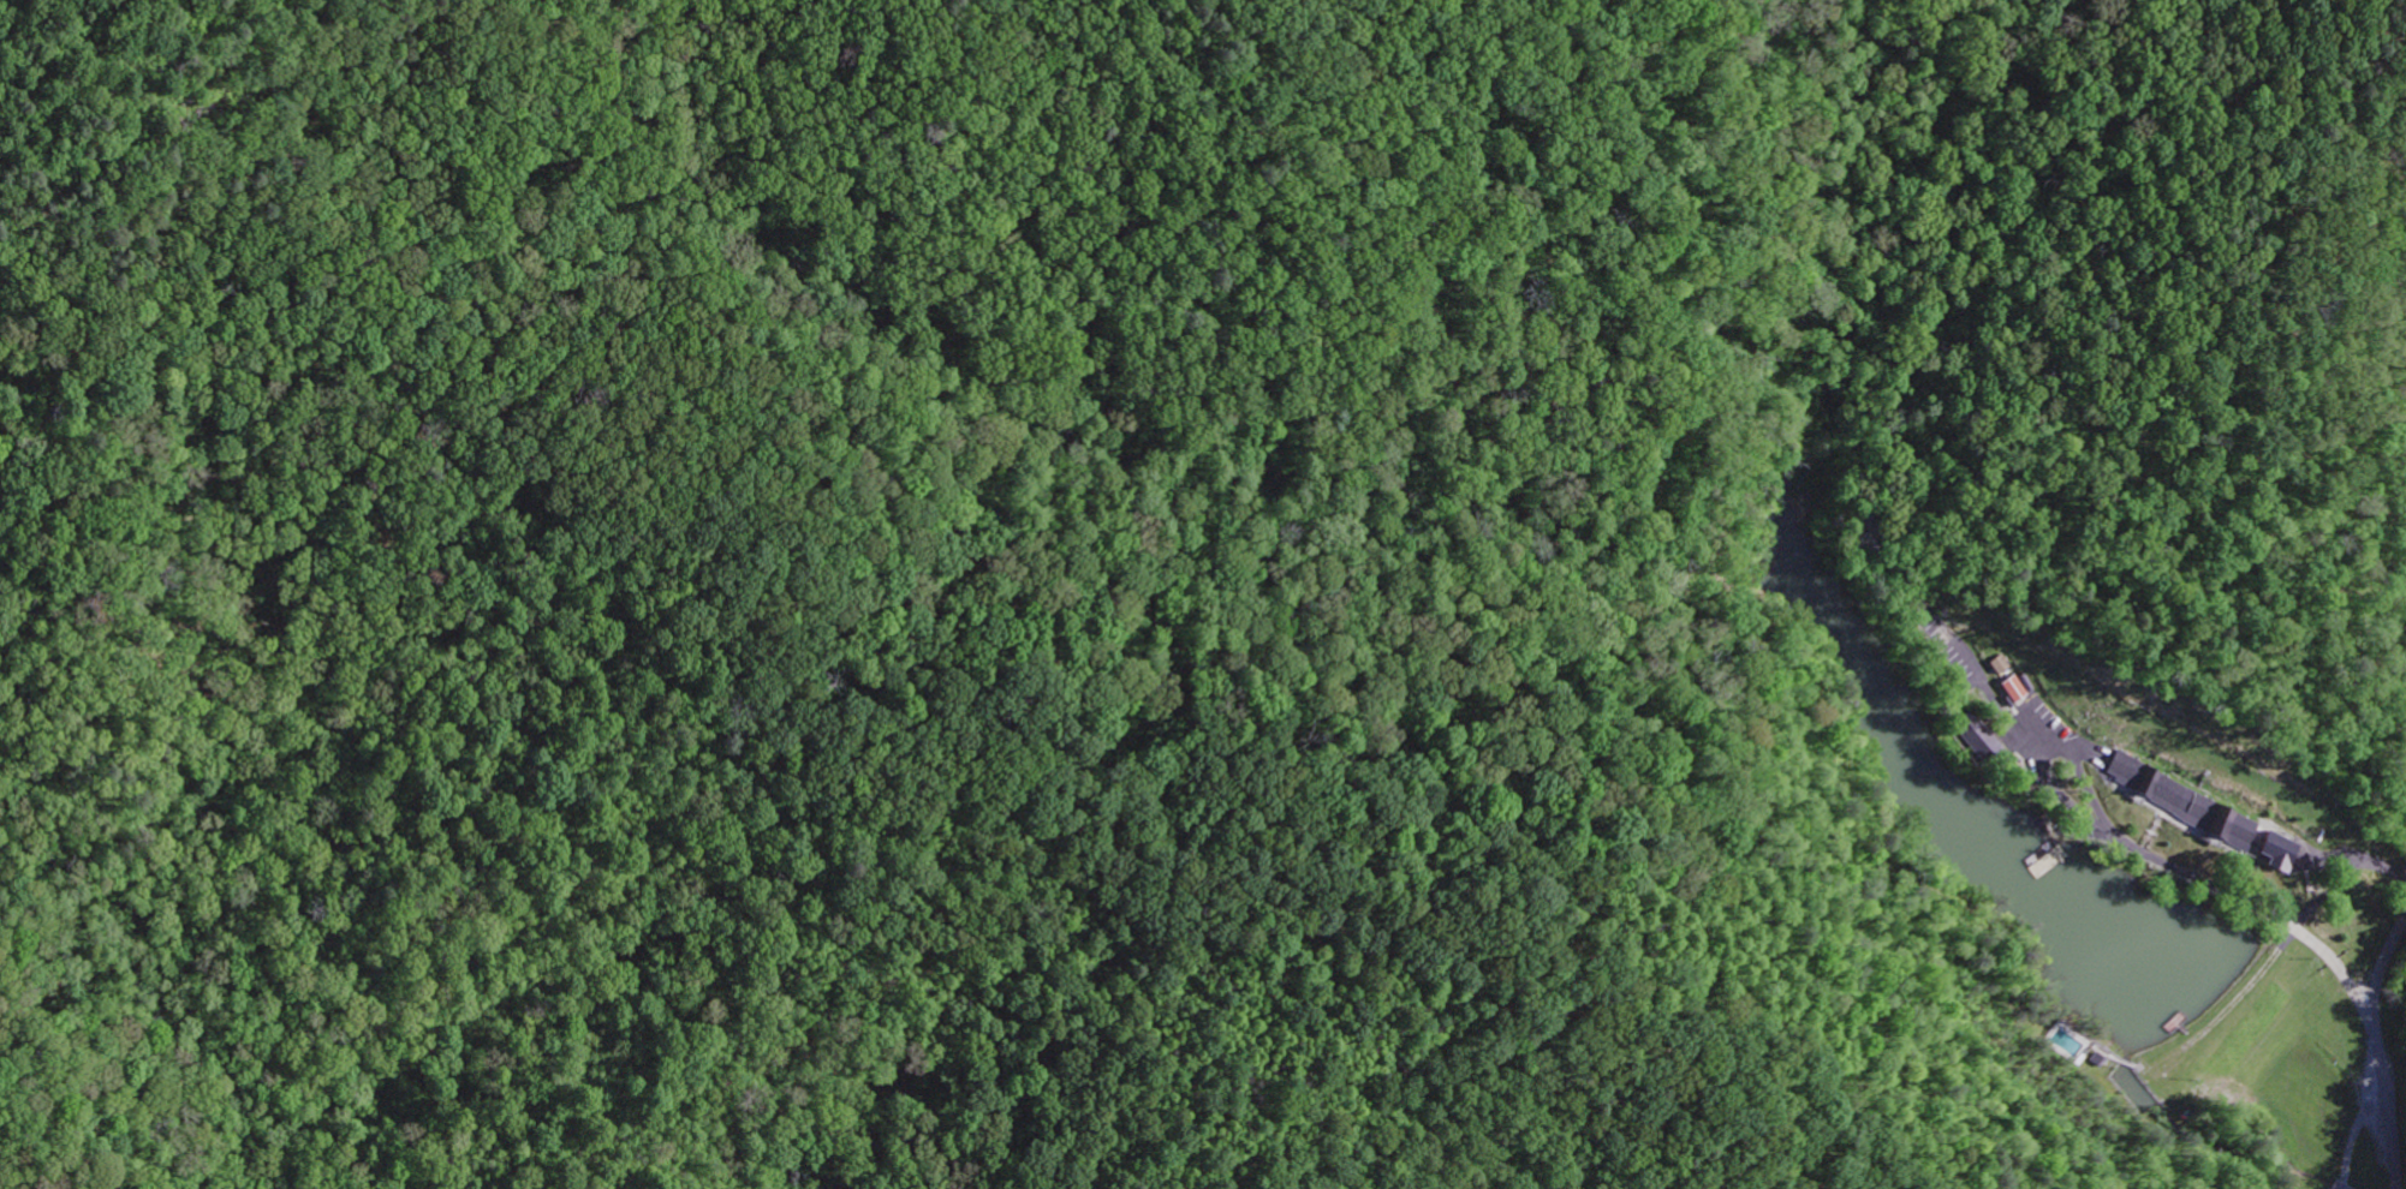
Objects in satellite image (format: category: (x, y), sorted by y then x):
building: (2002, 665)
building: (2007, 688)
building: (1972, 736)
building: (2184, 800)
building: (2277, 847)
road: (2157, 859)
road: (2376, 1048)

